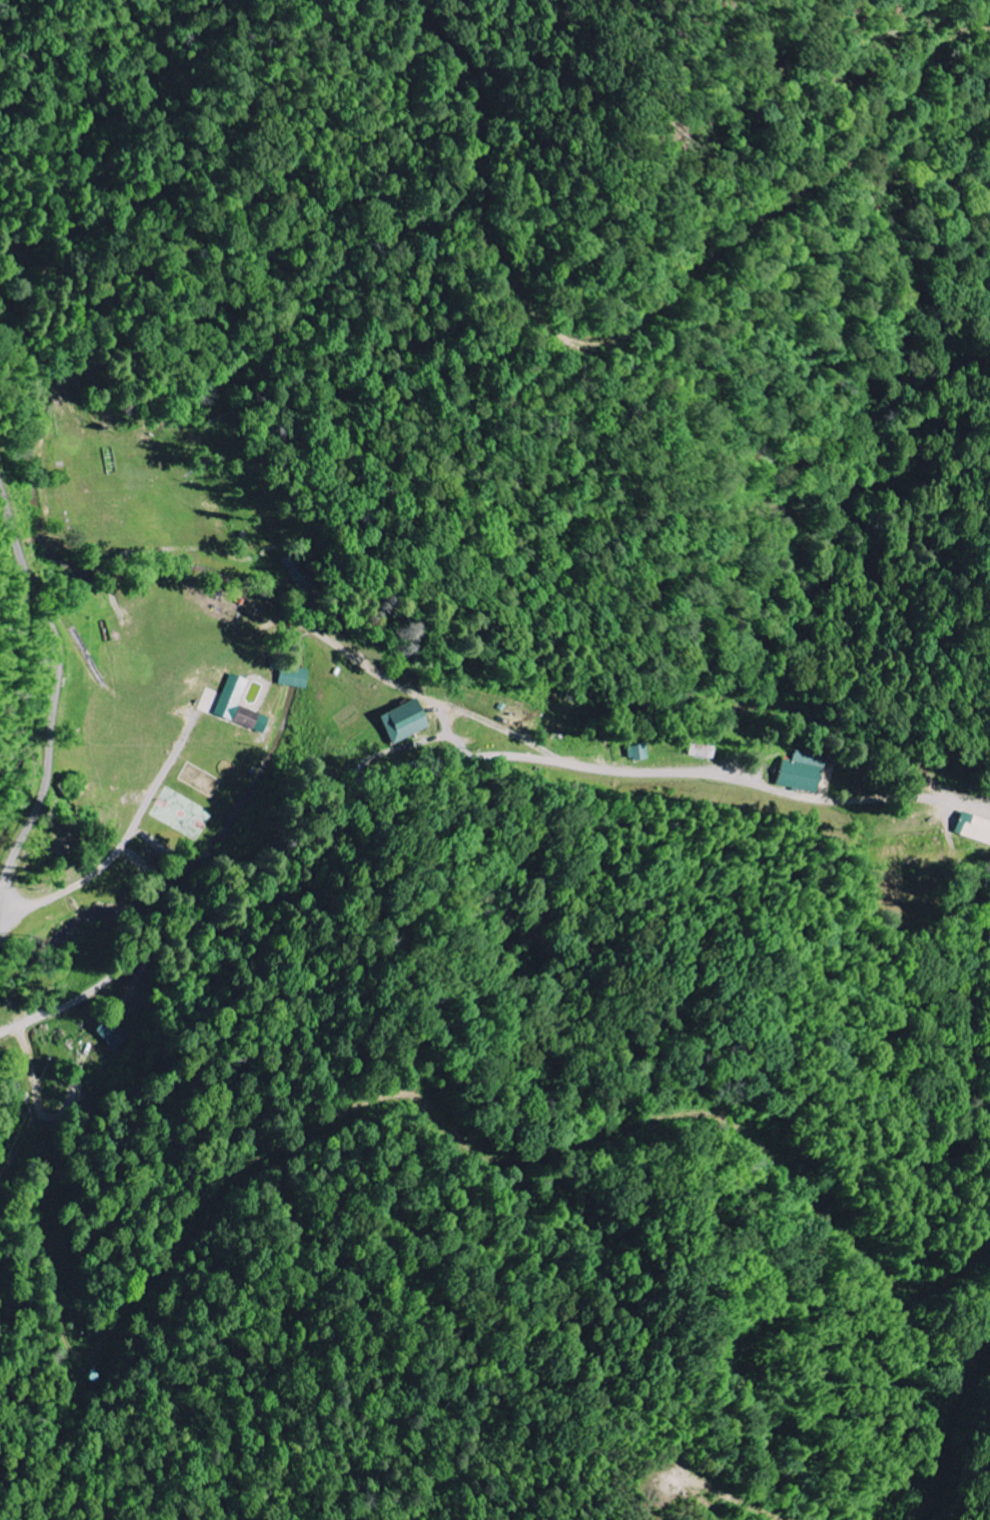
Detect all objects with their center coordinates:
building: (292, 678)
road: (56, 679)
building: (235, 707)
building: (700, 752)
road: (337, 762)
building: (796, 775)
building: (973, 829)
building: (112, 1034)

